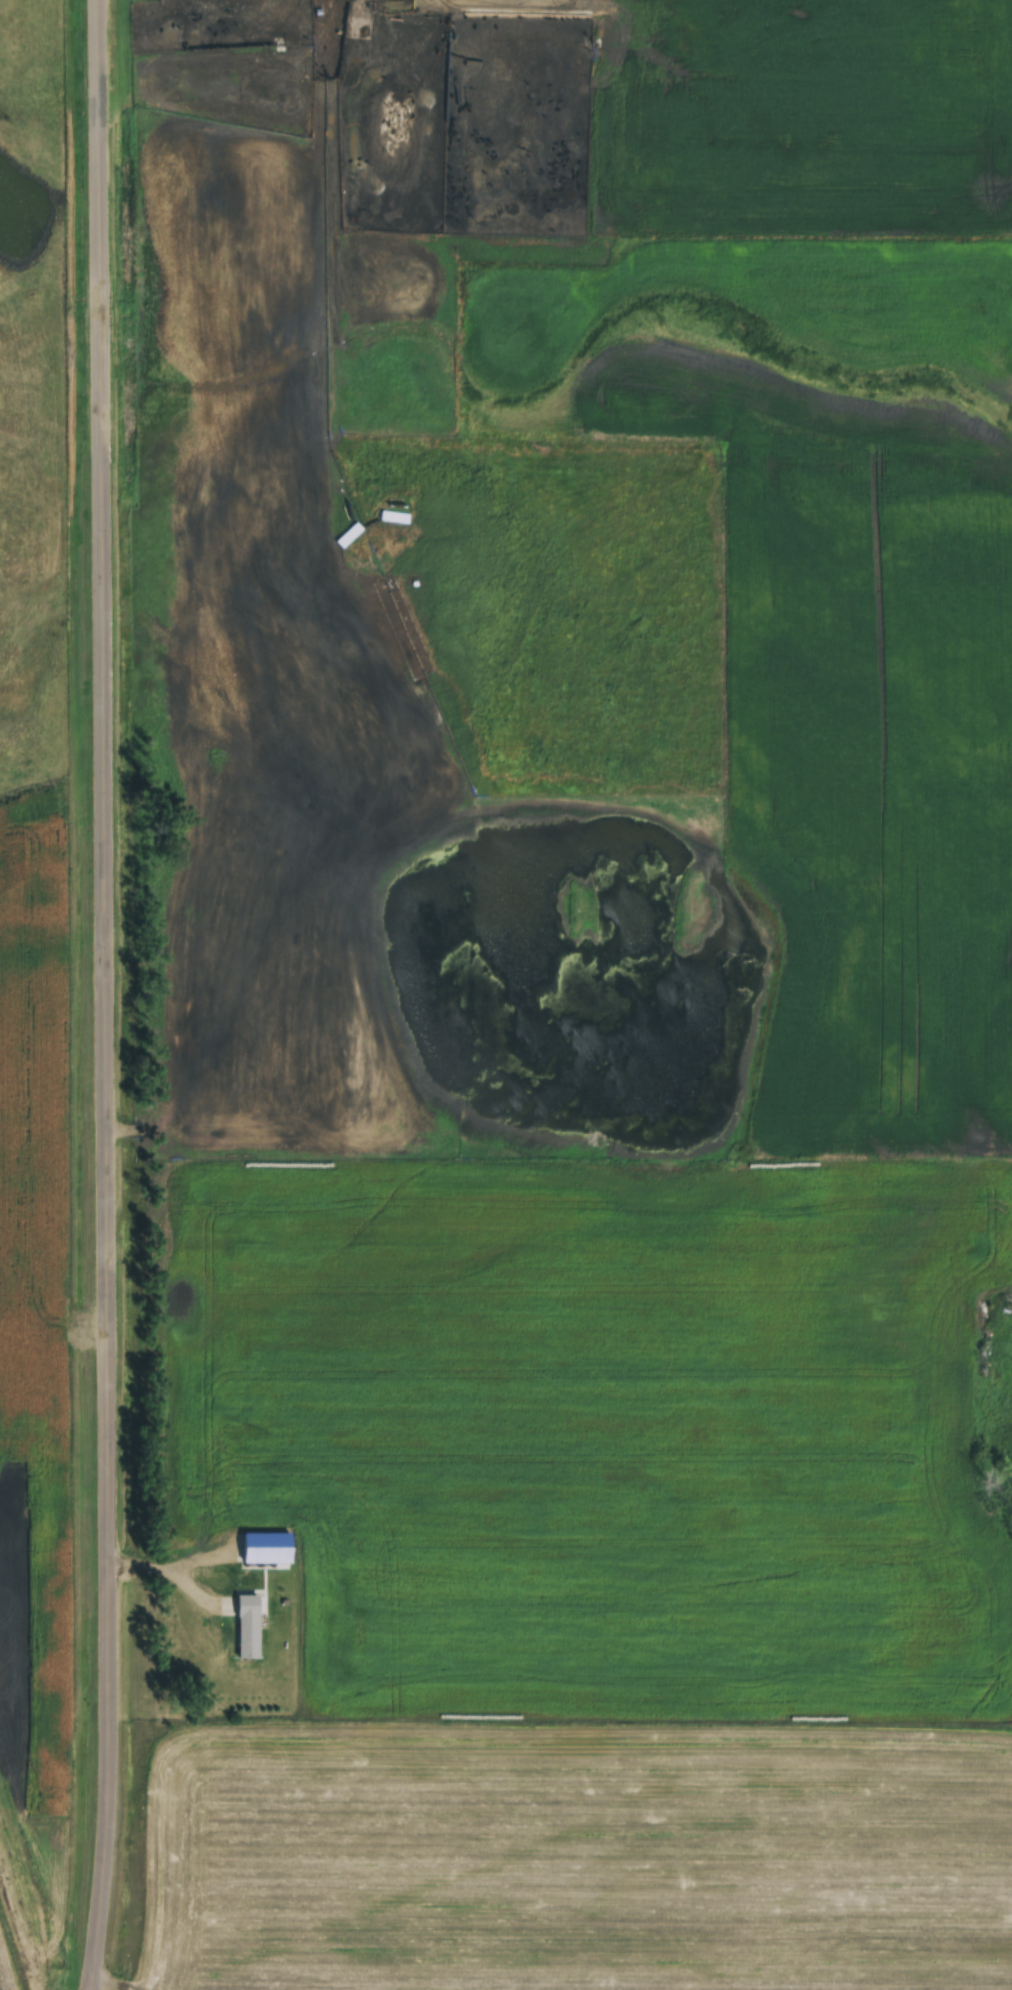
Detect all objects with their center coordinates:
road: (105, 995)
building: (245, 1626)

